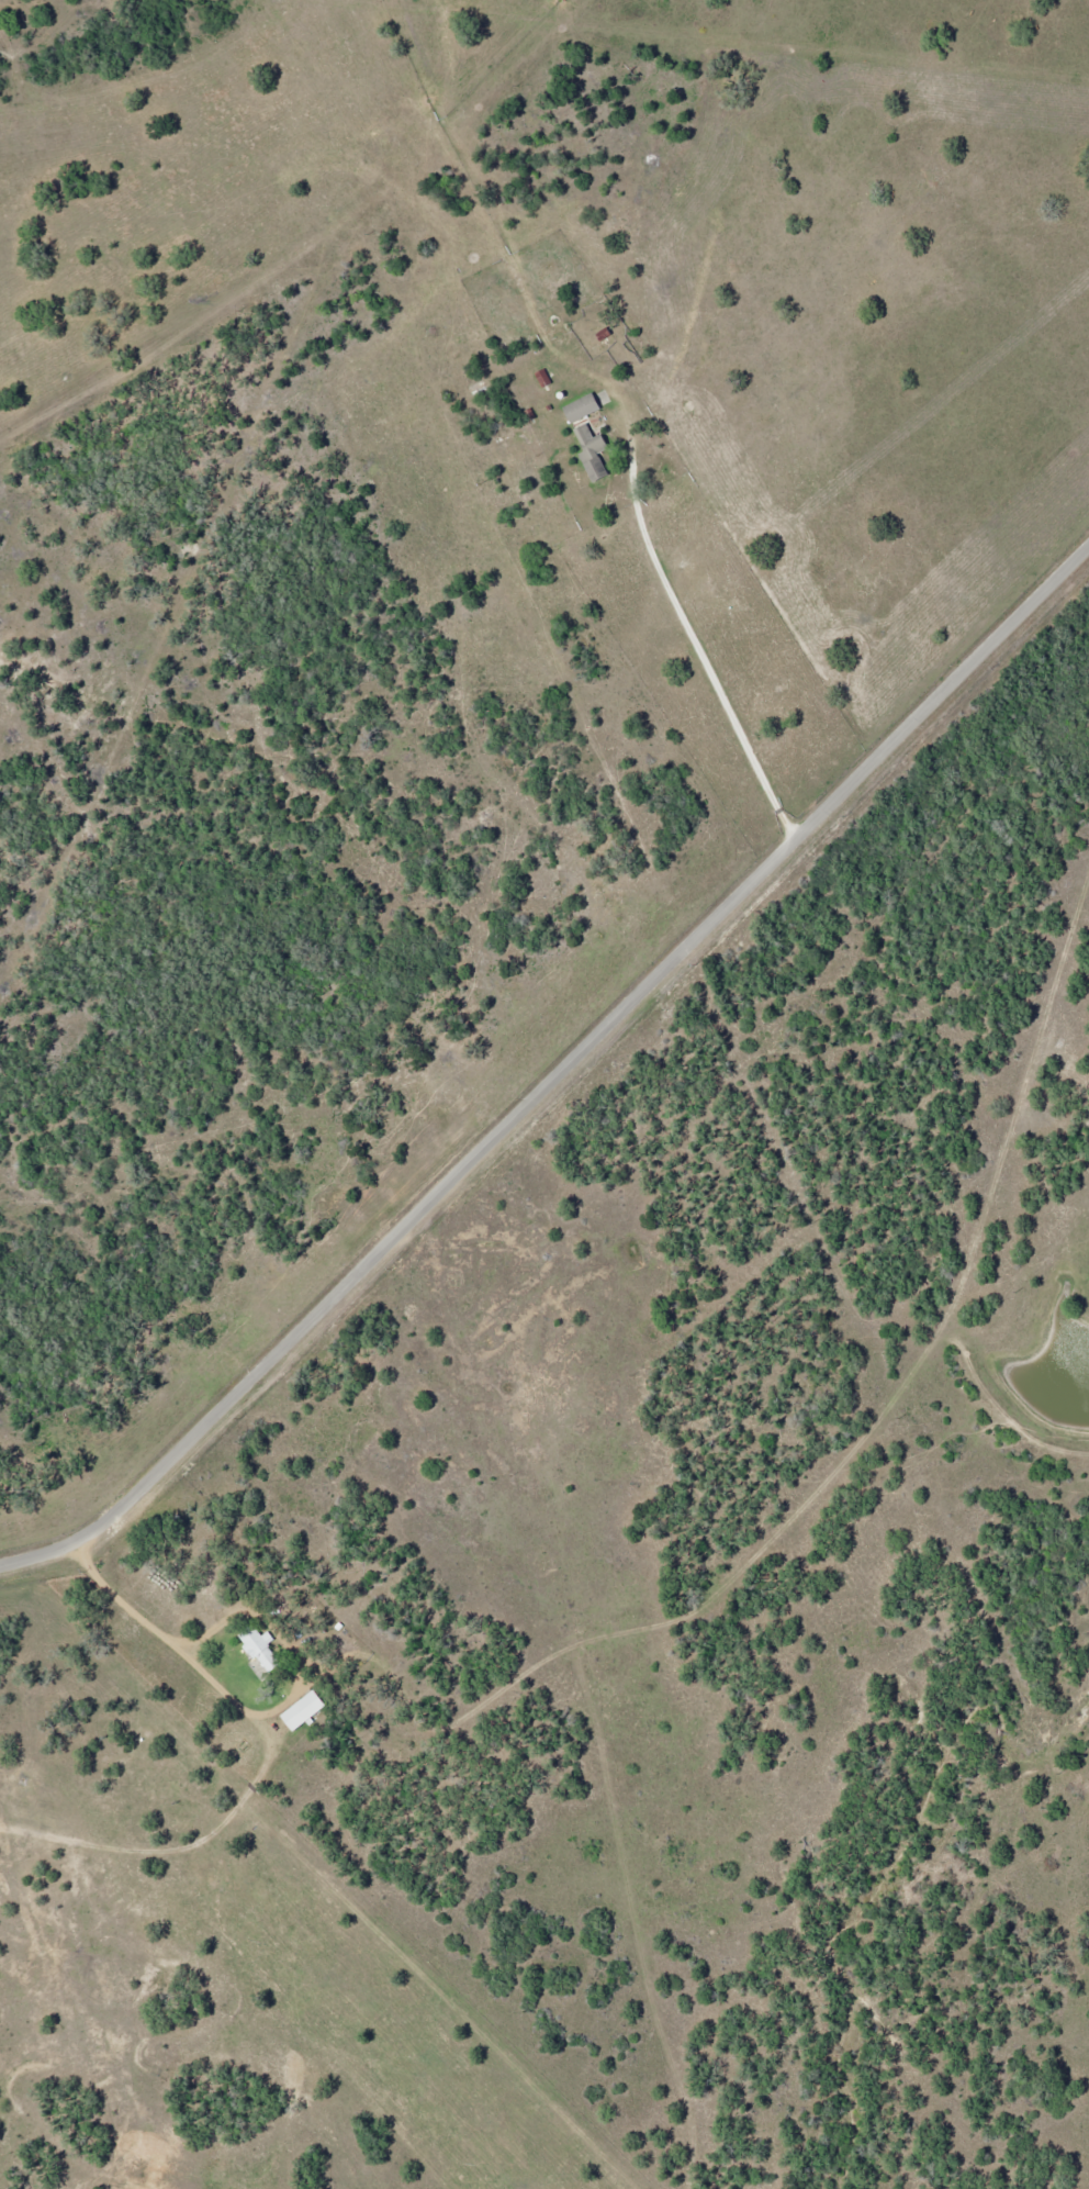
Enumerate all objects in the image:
building: (602, 334)
building: (579, 407)
building: (591, 453)
road: (687, 626)
road: (558, 1074)
road: (176, 1639)
building: (258, 1649)
building: (301, 1710)
road: (157, 1844)

